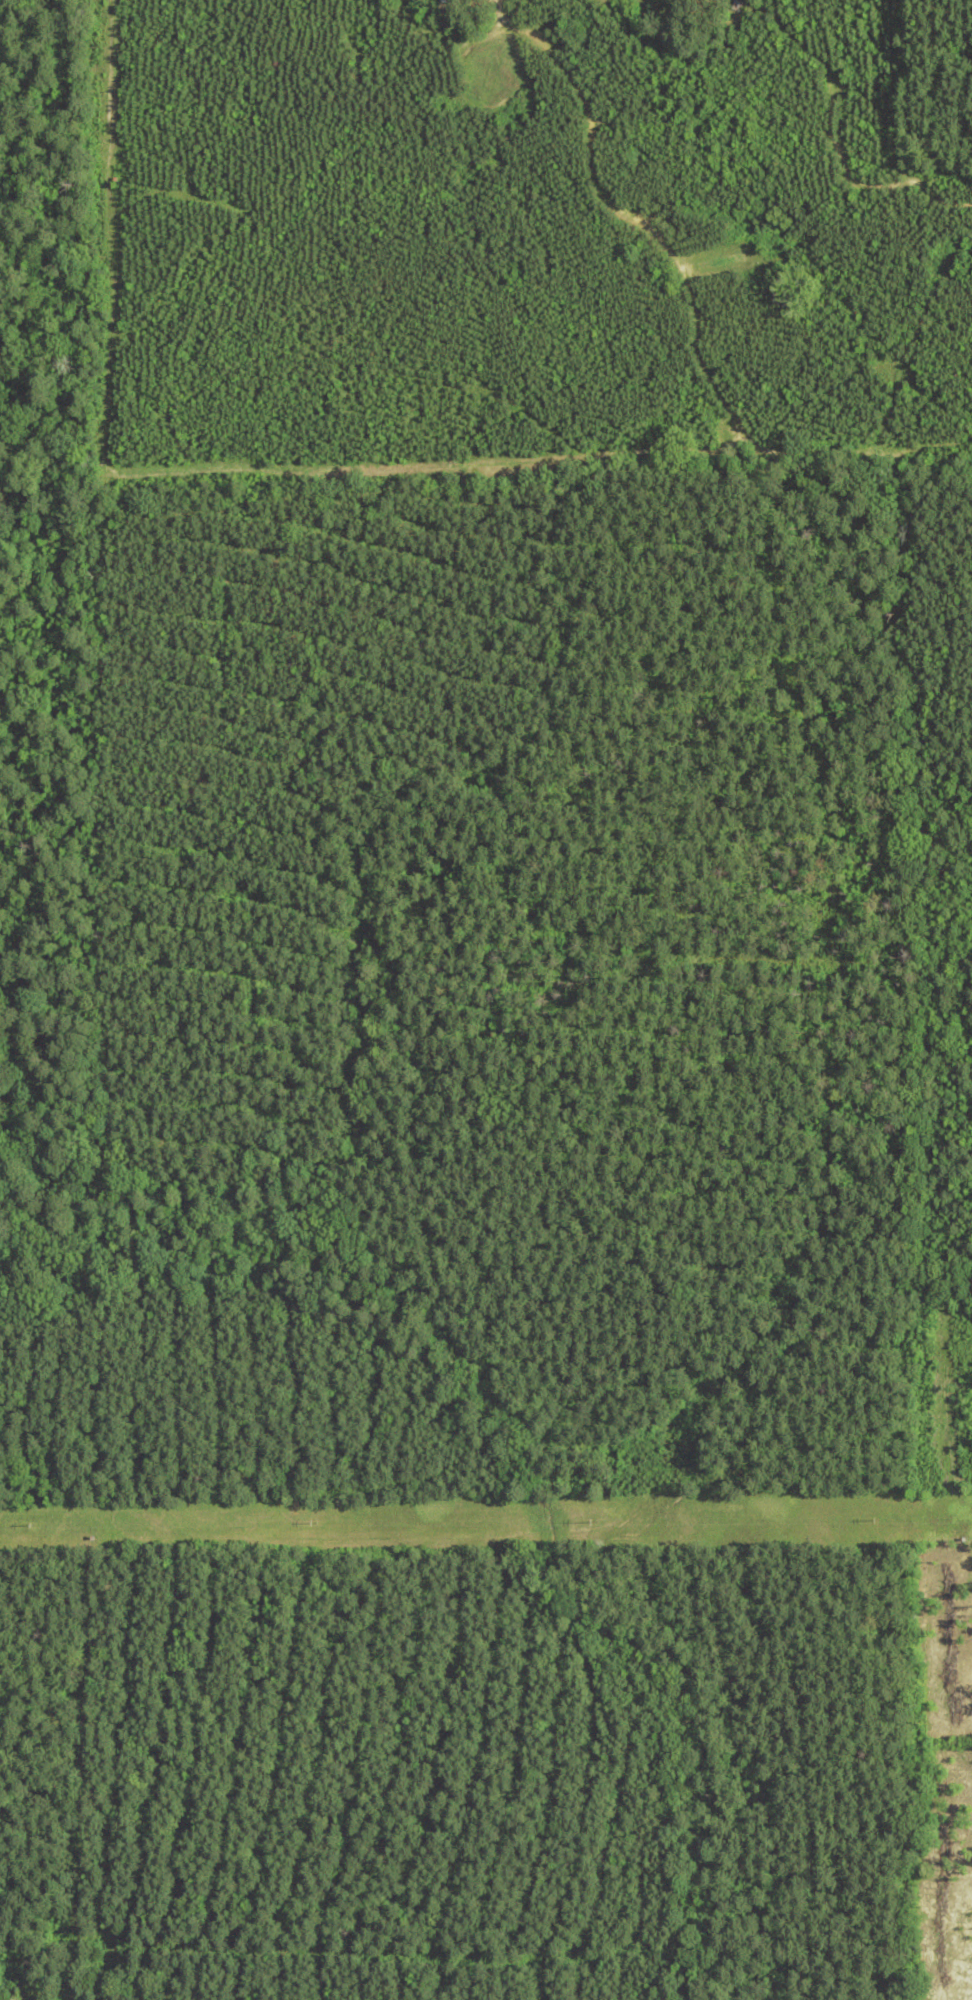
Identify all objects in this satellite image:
road: (929, 1706)
road: (883, 1818)

